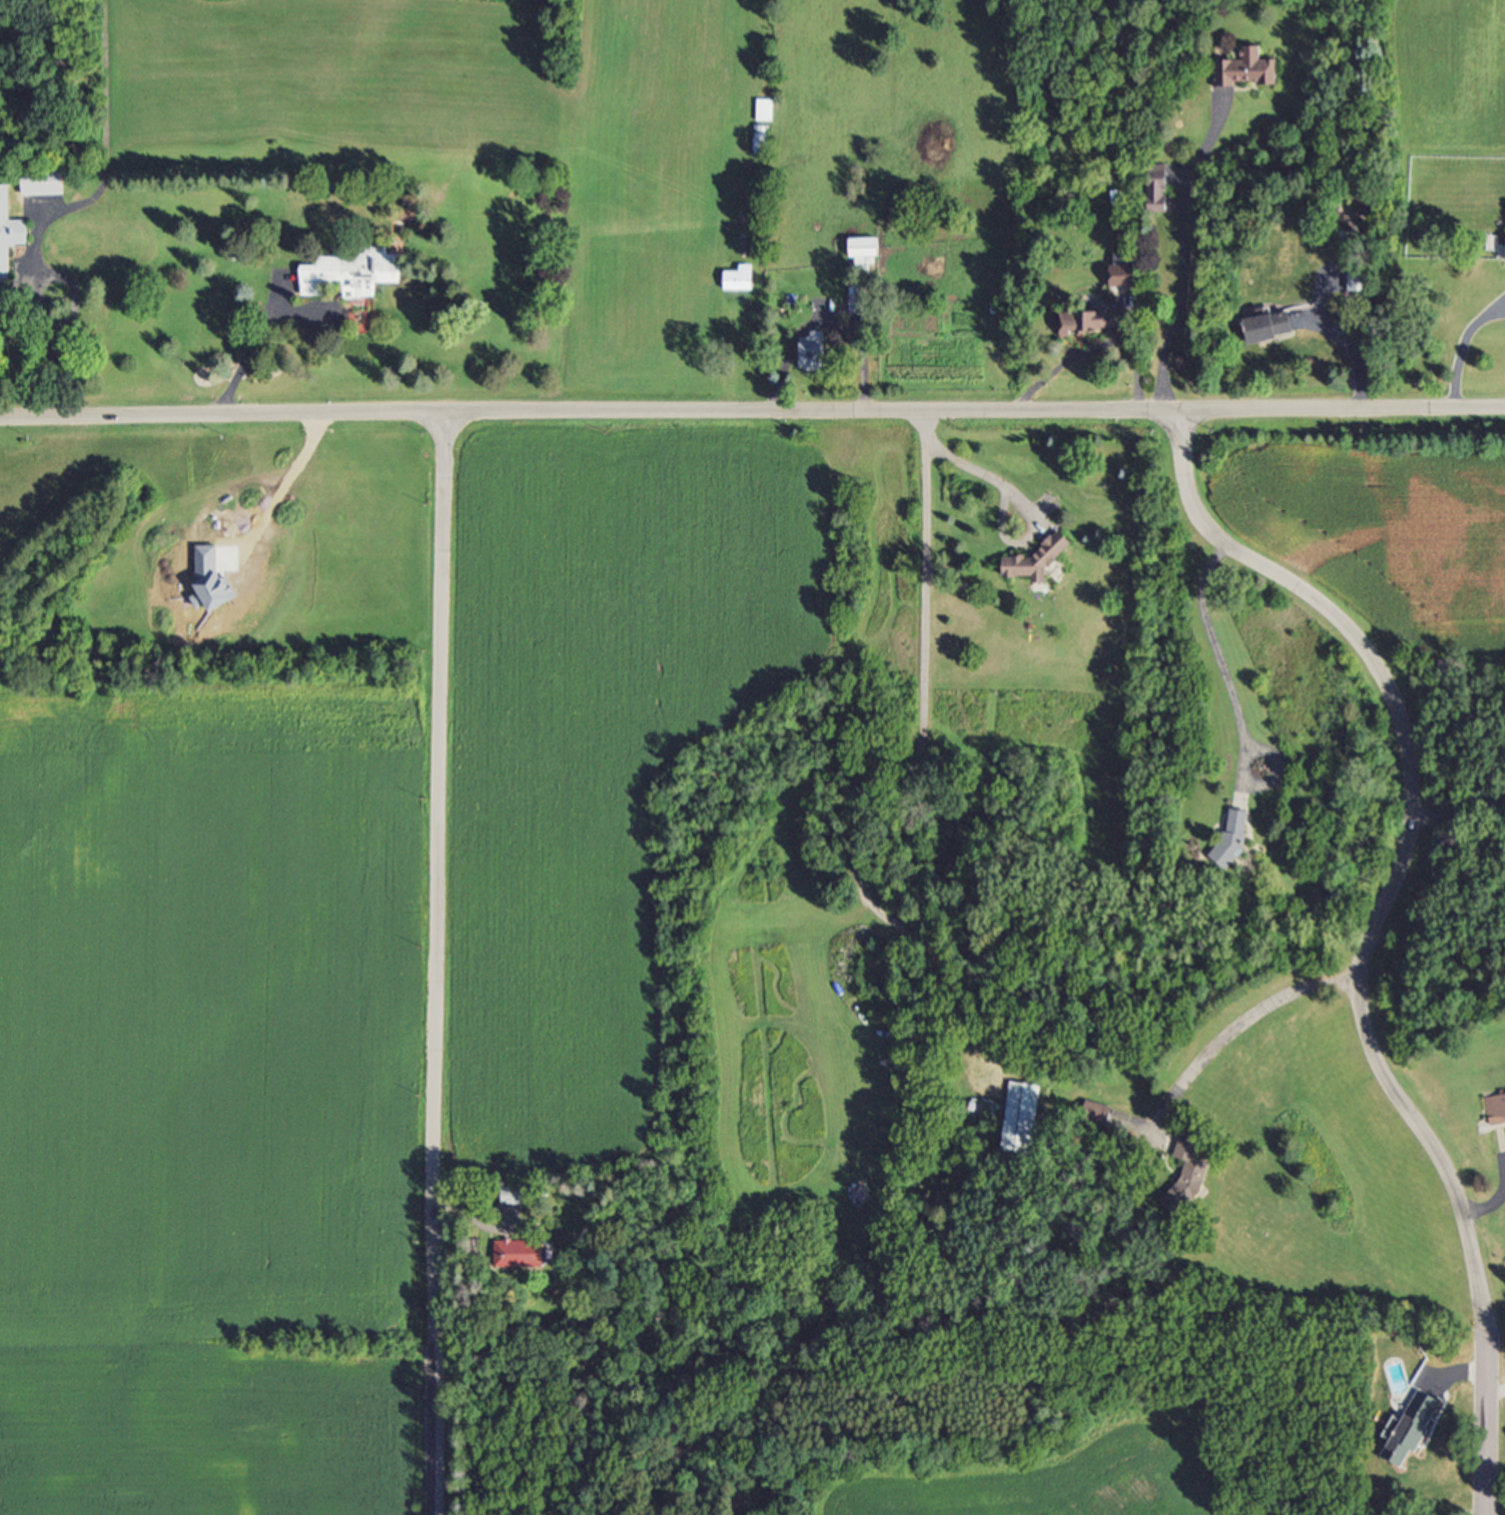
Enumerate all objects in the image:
building: (1251, 74)
building: (48, 188)
building: (1161, 193)
building: (11, 238)
building: (867, 260)
building: (1129, 275)
building: (358, 278)
building: (1358, 284)
road: (73, 303)
building: (863, 307)
building: (1095, 328)
building: (1269, 334)
road: (1459, 345)
road: (1099, 347)
road: (1346, 351)
building: (819, 358)
road: (752, 410)
road: (924, 471)
road: (284, 482)
road: (1021, 506)
building: (1041, 565)
road: (1215, 652)
road: (1460, 804)
building: (1243, 832)
road: (1372, 927)
road: (436, 962)
road: (1239, 1019)
building: (1497, 1113)
building: (1025, 1122)
building: (1193, 1182)
building: (522, 1200)
building: (527, 1257)
building: (1414, 1435)

